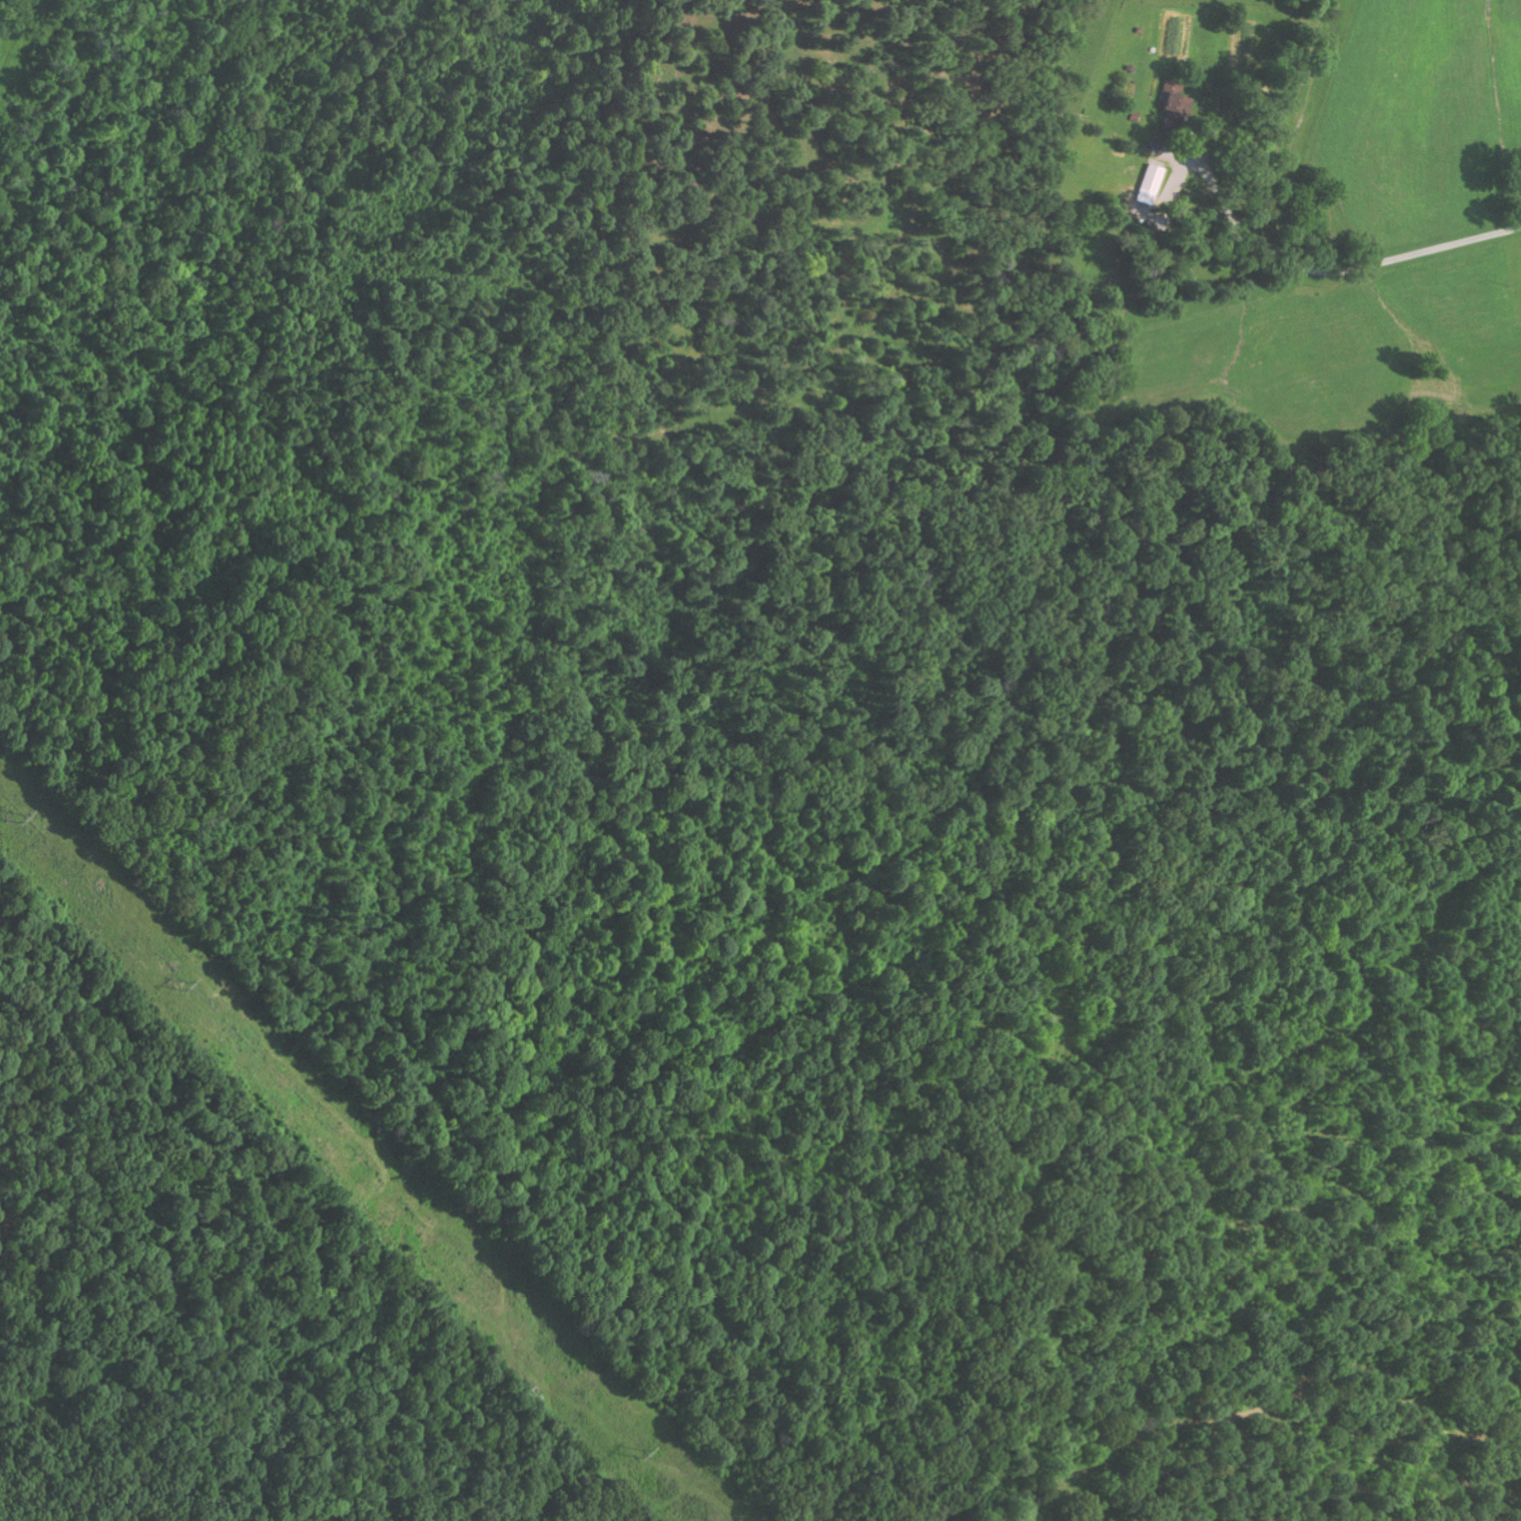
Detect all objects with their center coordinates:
building: (1148, 178)
road: (1338, 269)

